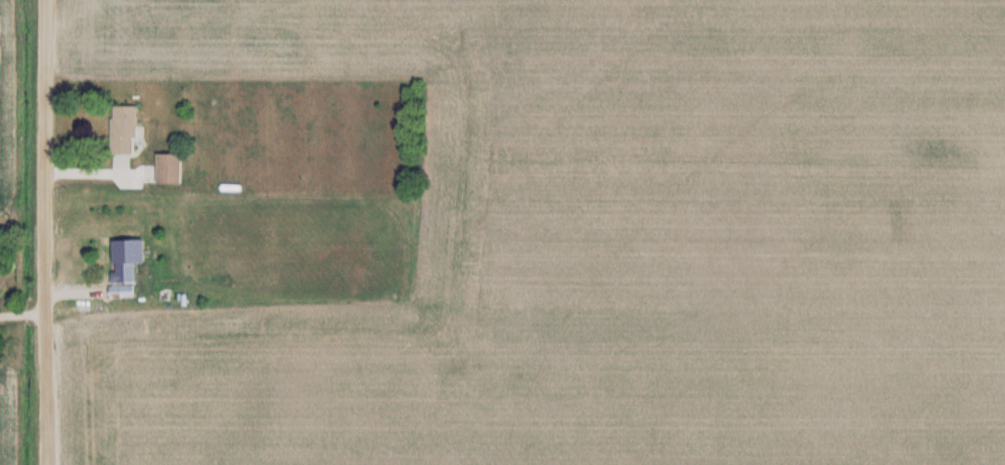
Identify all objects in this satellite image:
building: (127, 129)
building: (173, 168)
road: (45, 232)
building: (126, 280)

